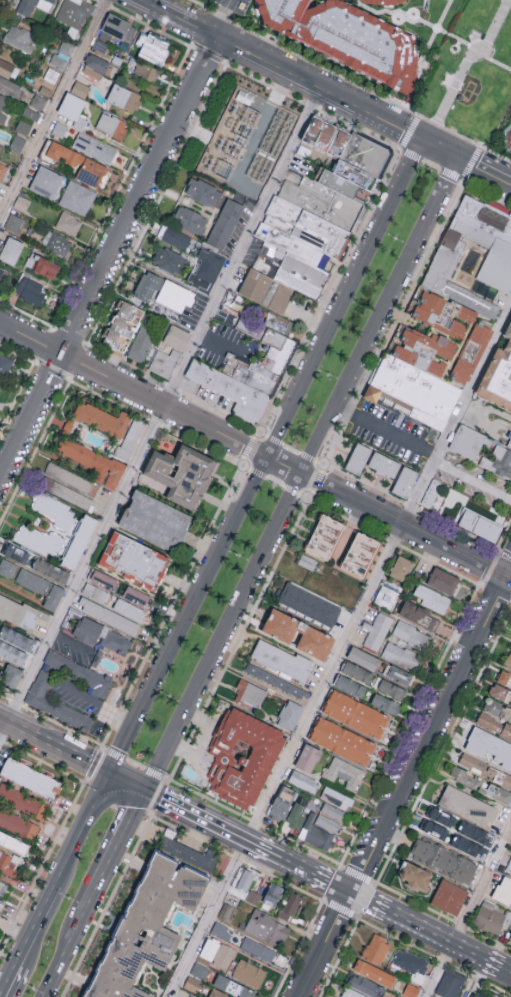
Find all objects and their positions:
building: (380, 2)
road: (155, 3)
road: (228, 3)
building: (25, 8)
building: (74, 13)
road: (220, 21)
building: (117, 28)
building: (19, 37)
building: (347, 39)
building: (152, 46)
building: (62, 54)
road: (469, 59)
building: (95, 65)
building: (8, 69)
building: (146, 70)
road: (282, 70)
park: (473, 73)
building: (9, 86)
building: (79, 88)
building: (123, 97)
building: (1, 98)
road: (53, 106)
building: (73, 108)
building: (32, 114)
building: (2, 116)
road: (412, 123)
building: (111, 125)
building: (23, 126)
building: (58, 129)
building: (318, 132)
building: (507, 139)
building: (17, 143)
building: (94, 147)
road: (439, 148)
building: (364, 155)
building: (79, 163)
building: (2, 168)
road: (483, 170)
building: (46, 181)
building: (203, 191)
building: (77, 197)
building: (21, 203)
road: (258, 211)
building: (189, 219)
building: (68, 223)
building: (225, 223)
building: (467, 234)
building: (175, 237)
building: (56, 242)
building: (11, 250)
road: (109, 259)
building: (168, 259)
building: (42, 265)
building: (497, 266)
building: (205, 269)
building: (0, 271)
road: (394, 281)
building: (147, 286)
building: (29, 290)
building: (264, 293)
building: (174, 295)
road: (345, 298)
building: (439, 312)
building: (467, 313)
building: (122, 325)
building: (176, 337)
building: (141, 343)
road: (221, 343)
building: (281, 345)
building: (471, 352)
building: (164, 362)
building: (4, 365)
building: (498, 375)
building: (0, 384)
building: (416, 387)
road: (133, 389)
building: (229, 391)
building: (102, 418)
building: (67, 428)
road: (385, 430)
building: (130, 438)
road: (316, 438)
building: (467, 440)
building: (509, 441)
parking lot: (429, 456)
building: (357, 458)
building: (498, 461)
building: (93, 462)
road: (284, 464)
building: (384, 466)
building: (181, 473)
building: (404, 481)
road: (472, 481)
building: (431, 492)
building: (53, 510)
building: (154, 520)
road: (405, 525)
building: (480, 525)
road: (98, 534)
building: (324, 538)
building: (39, 540)
building: (79, 541)
building: (17, 553)
building: (361, 556)
building: (133, 559)
building: (307, 561)
building: (8, 568)
building: (50, 570)
building: (401, 570)
road: (378, 572)
building: (103, 579)
building: (31, 580)
building: (443, 582)
building: (94, 592)
building: (136, 595)
building: (53, 597)
building: (388, 600)
building: (432, 600)
building: (309, 606)
building: (129, 609)
building: (20, 613)
road: (190, 614)
building: (107, 615)
building: (419, 617)
road: (224, 631)
building: (376, 632)
building: (88, 633)
building: (298, 635)
building: (17, 638)
building: (414, 638)
road: (70, 642)
building: (115, 643)
building: (13, 653)
building: (402, 657)
building: (364, 659)
building: (508, 659)
building: (283, 662)
building: (357, 673)
building: (11, 675)
building: (80, 675)
building: (400, 675)
building: (504, 679)
building: (276, 683)
building: (350, 687)
building: (391, 689)
building: (500, 693)
parking lot: (74, 695)
building: (249, 696)
building: (385, 703)
building: (56, 705)
road: (99, 706)
building: (497, 709)
building: (355, 714)
building: (289, 716)
building: (494, 724)
road: (430, 727)
road: (199, 739)
building: (342, 741)
road: (55, 745)
building: (489, 746)
building: (243, 757)
building: (308, 758)
building: (485, 770)
traffic signals: (112, 773)
building: (343, 773)
building: (29, 777)
road: (130, 781)
building: (303, 781)
building: (481, 785)
traffic signals: (148, 790)
building: (337, 797)
building: (23, 801)
building: (282, 803)
building: (467, 807)
building: (333, 811)
road: (197, 815)
building: (297, 815)
building: (327, 823)
building: (18, 824)
building: (454, 827)
road: (84, 831)
building: (316, 833)
building: (13, 843)
building: (469, 846)
road: (117, 851)
building: (189, 853)
road: (290, 861)
building: (443, 861)
building: (8, 863)
building: (508, 867)
building: (414, 875)
building: (245, 879)
road: (482, 883)
road: (342, 887)
building: (3, 888)
building: (503, 892)
building: (273, 894)
building: (253, 896)
building: (449, 897)
road: (369, 901)
building: (1, 903)
building: (290, 906)
building: (226, 912)
road: (208, 918)
building: (492, 918)
road: (36, 926)
road: (421, 927)
building: (266, 928)
building: (148, 929)
building: (221, 930)
building: (510, 942)
road: (323, 944)
building: (258, 948)
building: (376, 948)
building: (217, 953)
road: (476, 954)
road: (66, 955)
building: (410, 961)
road: (505, 969)
building: (199, 970)
road: (439, 970)
building: (248, 973)
building: (374, 973)
road: (8, 980)
building: (192, 983)
building: (450, 983)
building: (366, 986)
building: (232, 987)
building: (410, 990)
building: (351, 993)
building: (479, 995)
building: (399, 996)
building: (501, 996)

